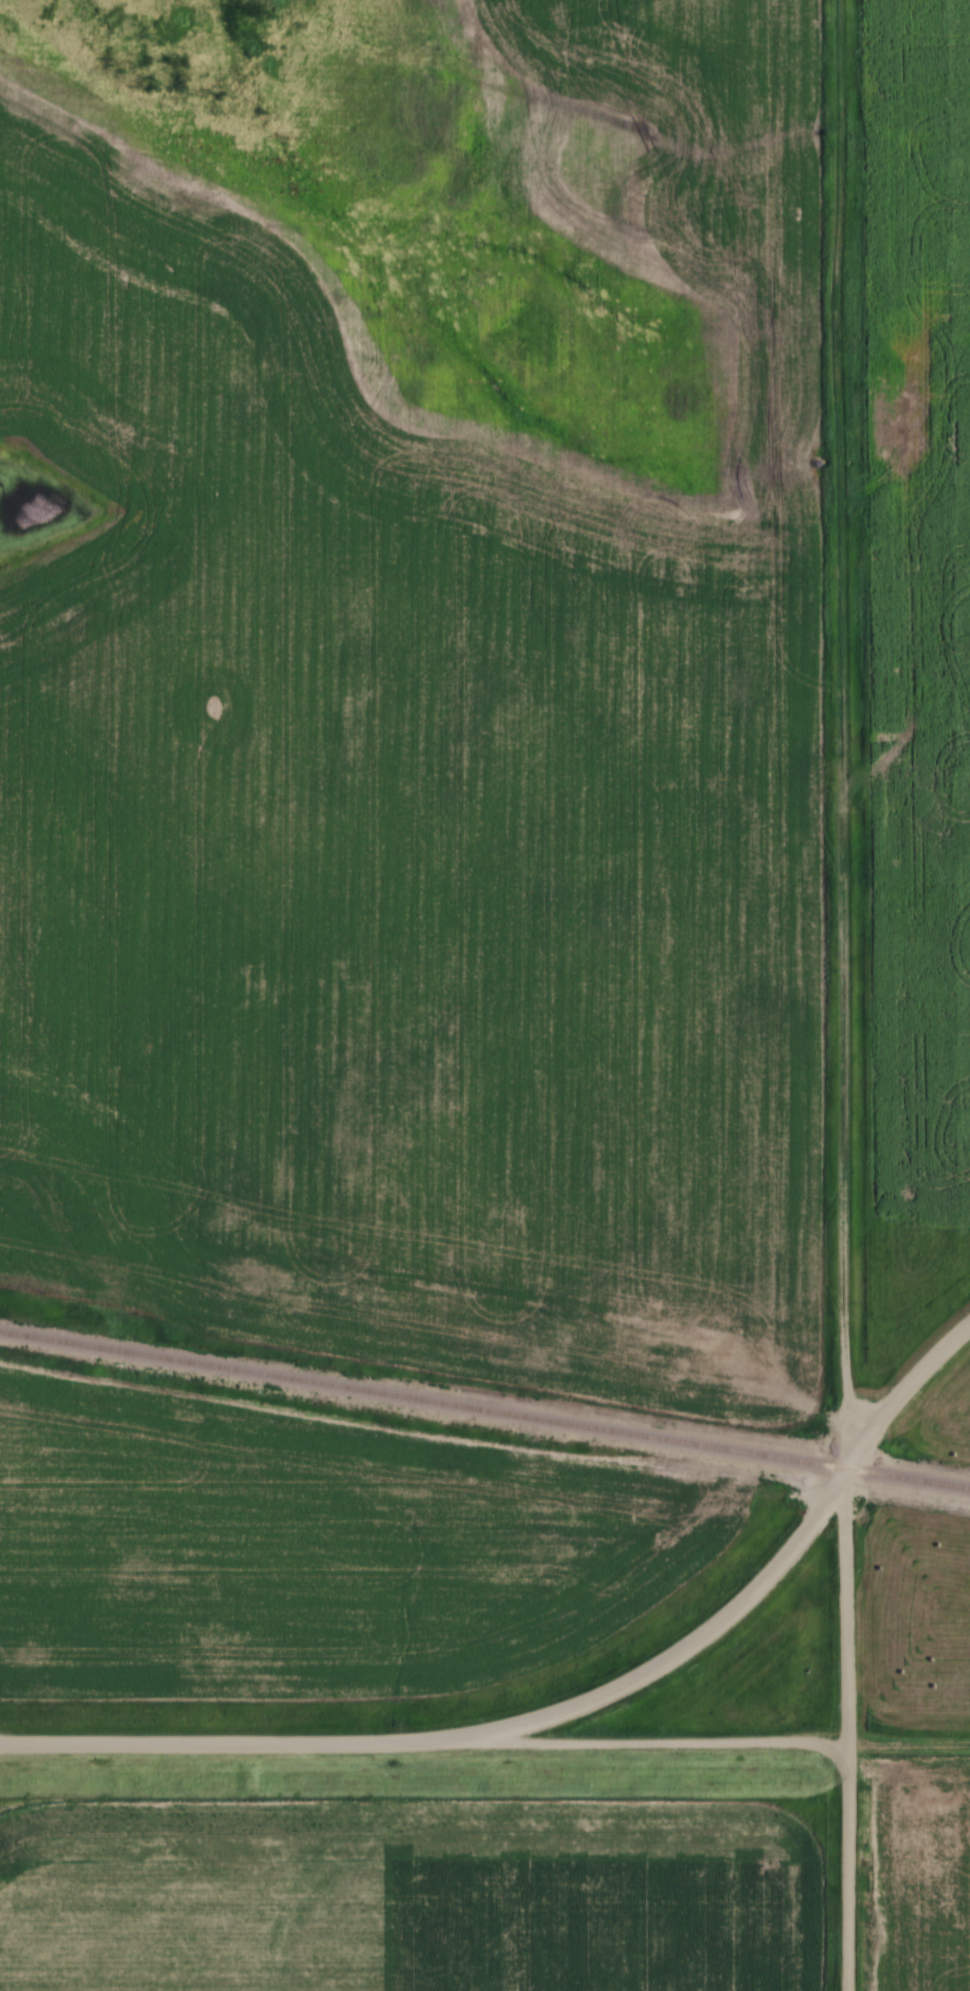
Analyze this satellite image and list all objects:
road: (844, 734)
road: (902, 1393)
railway: (423, 1400)
railway: (908, 1478)
road: (846, 1729)
road: (473, 1733)
road: (702, 1742)

